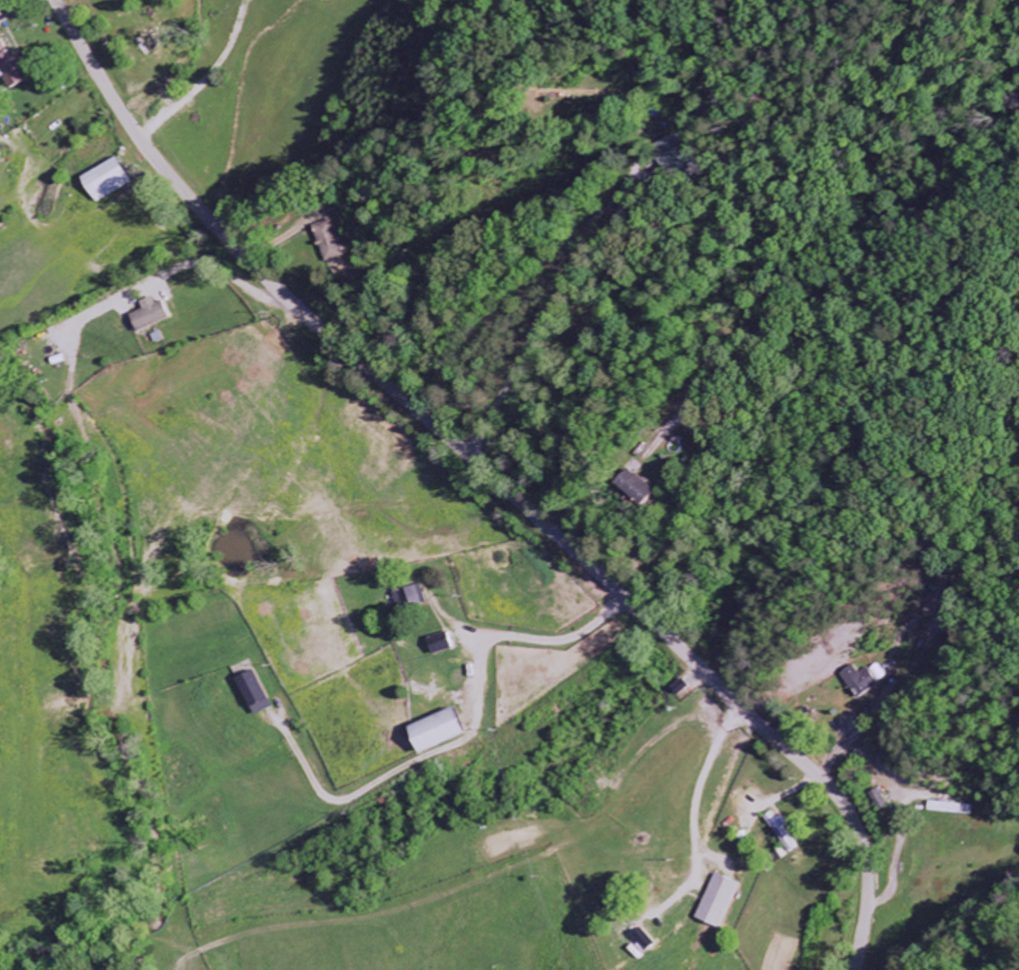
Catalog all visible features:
building: (15, 67)
building: (678, 152)
building: (668, 160)
building: (113, 180)
road: (608, 190)
building: (331, 241)
building: (145, 315)
road: (492, 477)
building: (643, 488)
building: (410, 599)
road: (582, 633)
building: (439, 644)
building: (863, 680)
building: (251, 694)
building: (432, 732)
building: (951, 809)
building: (781, 832)
building: (717, 902)

